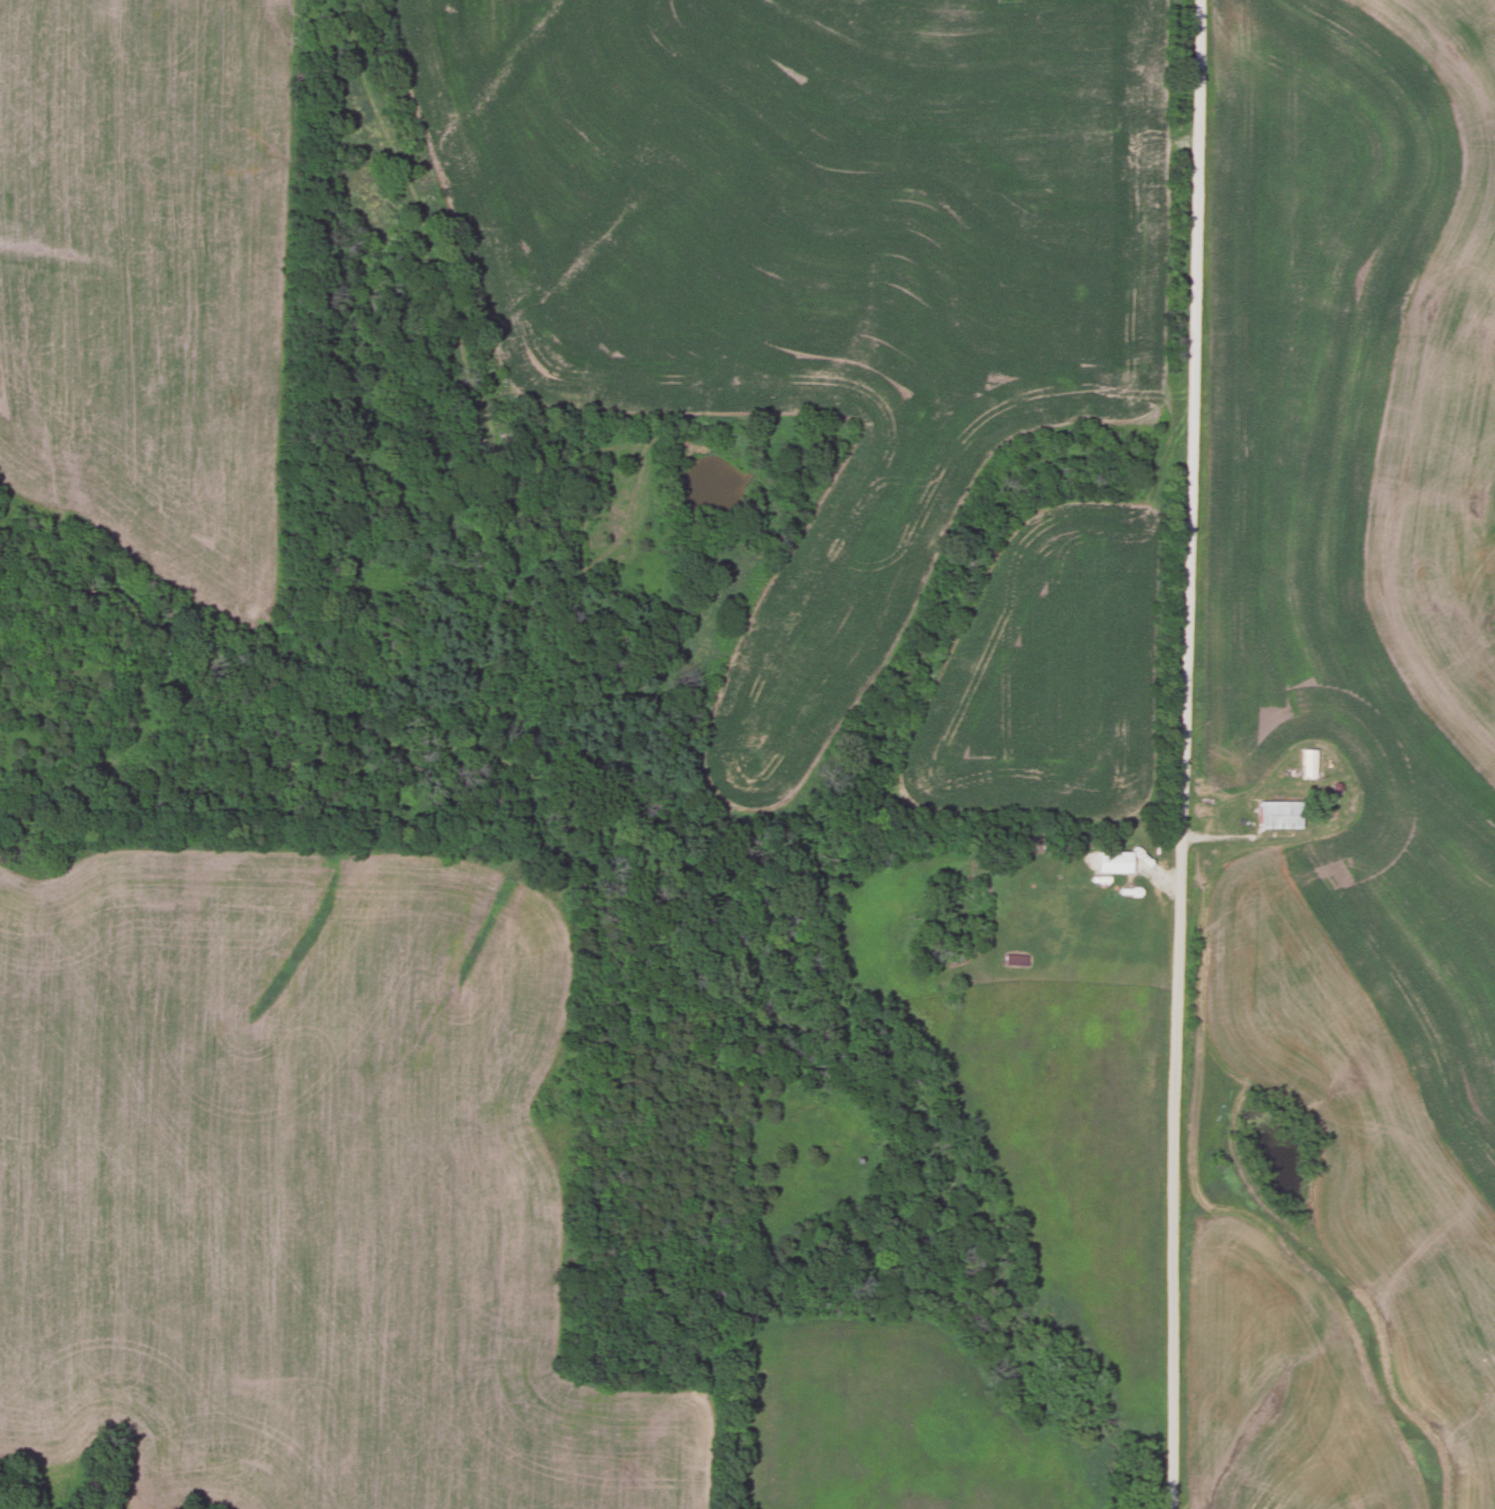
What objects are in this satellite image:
road: (1186, 754)
building: (1280, 815)
road: (1255, 836)
building: (1015, 961)

